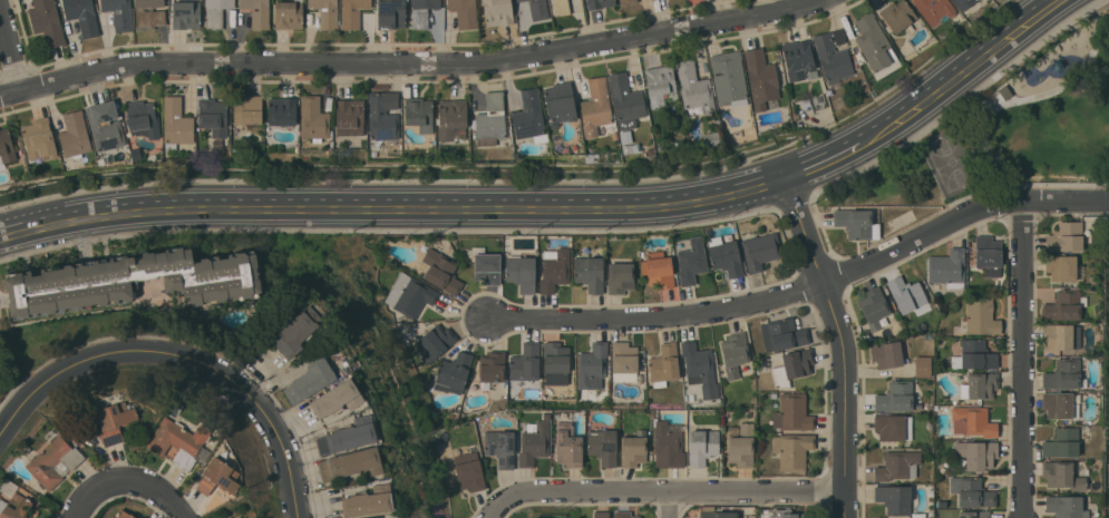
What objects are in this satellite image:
building: (519, 0)
building: (626, 1)
building: (599, 3)
building: (963, 3)
building: (561, 7)
building: (538, 9)
building: (934, 10)
building: (422, 11)
building: (216, 12)
building: (257, 12)
building: (325, 12)
building: (352, 12)
building: (465, 12)
building: (498, 12)
building: (119, 13)
building: (149, 13)
building: (289, 13)
building: (391, 13)
building: (186, 14)
building: (82, 16)
building: (899, 16)
building: (47, 21)
road: (1064, 22)
road: (11, 45)
building: (876, 46)
building: (834, 57)
building: (798, 58)
road: (412, 62)
building: (813, 75)
building: (729, 78)
building: (761, 78)
building: (660, 85)
building: (694, 87)
building: (625, 100)
building: (560, 102)
building: (774, 104)
building: (596, 107)
building: (247, 109)
road: (989, 110)
building: (282, 111)
building: (419, 114)
building: (383, 115)
road: (967, 115)
building: (213, 116)
building: (350, 117)
building: (529, 117)
building: (143, 118)
building: (313, 118)
building: (450, 118)
building: (490, 120)
building: (176, 123)
building: (105, 125)
park: (1008, 131)
building: (75, 135)
building: (625, 136)
building: (39, 139)
building: (711, 140)
building: (560, 144)
building: (660, 146)
building: (6, 148)
building: (631, 148)
building: (650, 152)
park: (954, 163)
road: (844, 177)
road: (556, 206)
building: (857, 223)
building: (1066, 237)
building: (759, 248)
building: (726, 255)
building: (988, 255)
building: (692, 261)
building: (486, 266)
building: (1063, 267)
building: (554, 268)
building: (947, 268)
building: (658, 270)
building: (441, 271)
building: (522, 273)
building: (590, 273)
building: (620, 274)
building: (133, 281)
building: (1005, 282)
road: (805, 289)
building: (409, 295)
building: (908, 296)
building: (1064, 305)
building: (874, 306)
building: (980, 316)
building: (296, 332)
building: (782, 334)
building: (1058, 336)
road: (846, 342)
building: (435, 343)
road: (107, 349)
building: (735, 353)
building: (886, 354)
building: (973, 355)
building: (624, 358)
road: (1025, 359)
building: (525, 362)
building: (556, 363)
building: (663, 365)
building: (492, 366)
building: (592, 366)
building: (792, 366)
building: (923, 366)
building: (700, 369)
building: (454, 371)
building: (343, 372)
building: (1063, 374)
building: (310, 380)
building: (980, 385)
building: (572, 393)
building: (774, 394)
building: (895, 397)
building: (337, 398)
building: (1060, 404)
building: (177, 407)
building: (748, 411)
building: (792, 412)
building: (115, 421)
building: (973, 422)
building: (893, 427)
building: (349, 437)
road: (285, 441)
building: (181, 442)
building: (534, 442)
building: (1062, 443)
building: (567, 444)
building: (669, 444)
building: (741, 444)
building: (702, 446)
building: (602, 447)
building: (500, 448)
building: (632, 450)
building: (792, 450)
building: (977, 455)
building: (53, 461)
building: (351, 463)
building: (898, 465)
building: (468, 471)
building: (1062, 475)
building: (218, 477)
building: (6, 480)
road: (132, 481)
building: (20, 489)
building: (971, 491)
road: (665, 493)
building: (894, 498)
building: (368, 501)
building: (13, 504)
road: (671, 506)
building: (1066, 506)
building: (708, 508)
building: (123, 514)
building: (601, 514)
building: (787, 514)
building: (973, 514)
building: (624, 515)
building: (719, 515)
building: (918, 515)
building: (226, 517)
building: (239, 517)
building: (374, 517)

